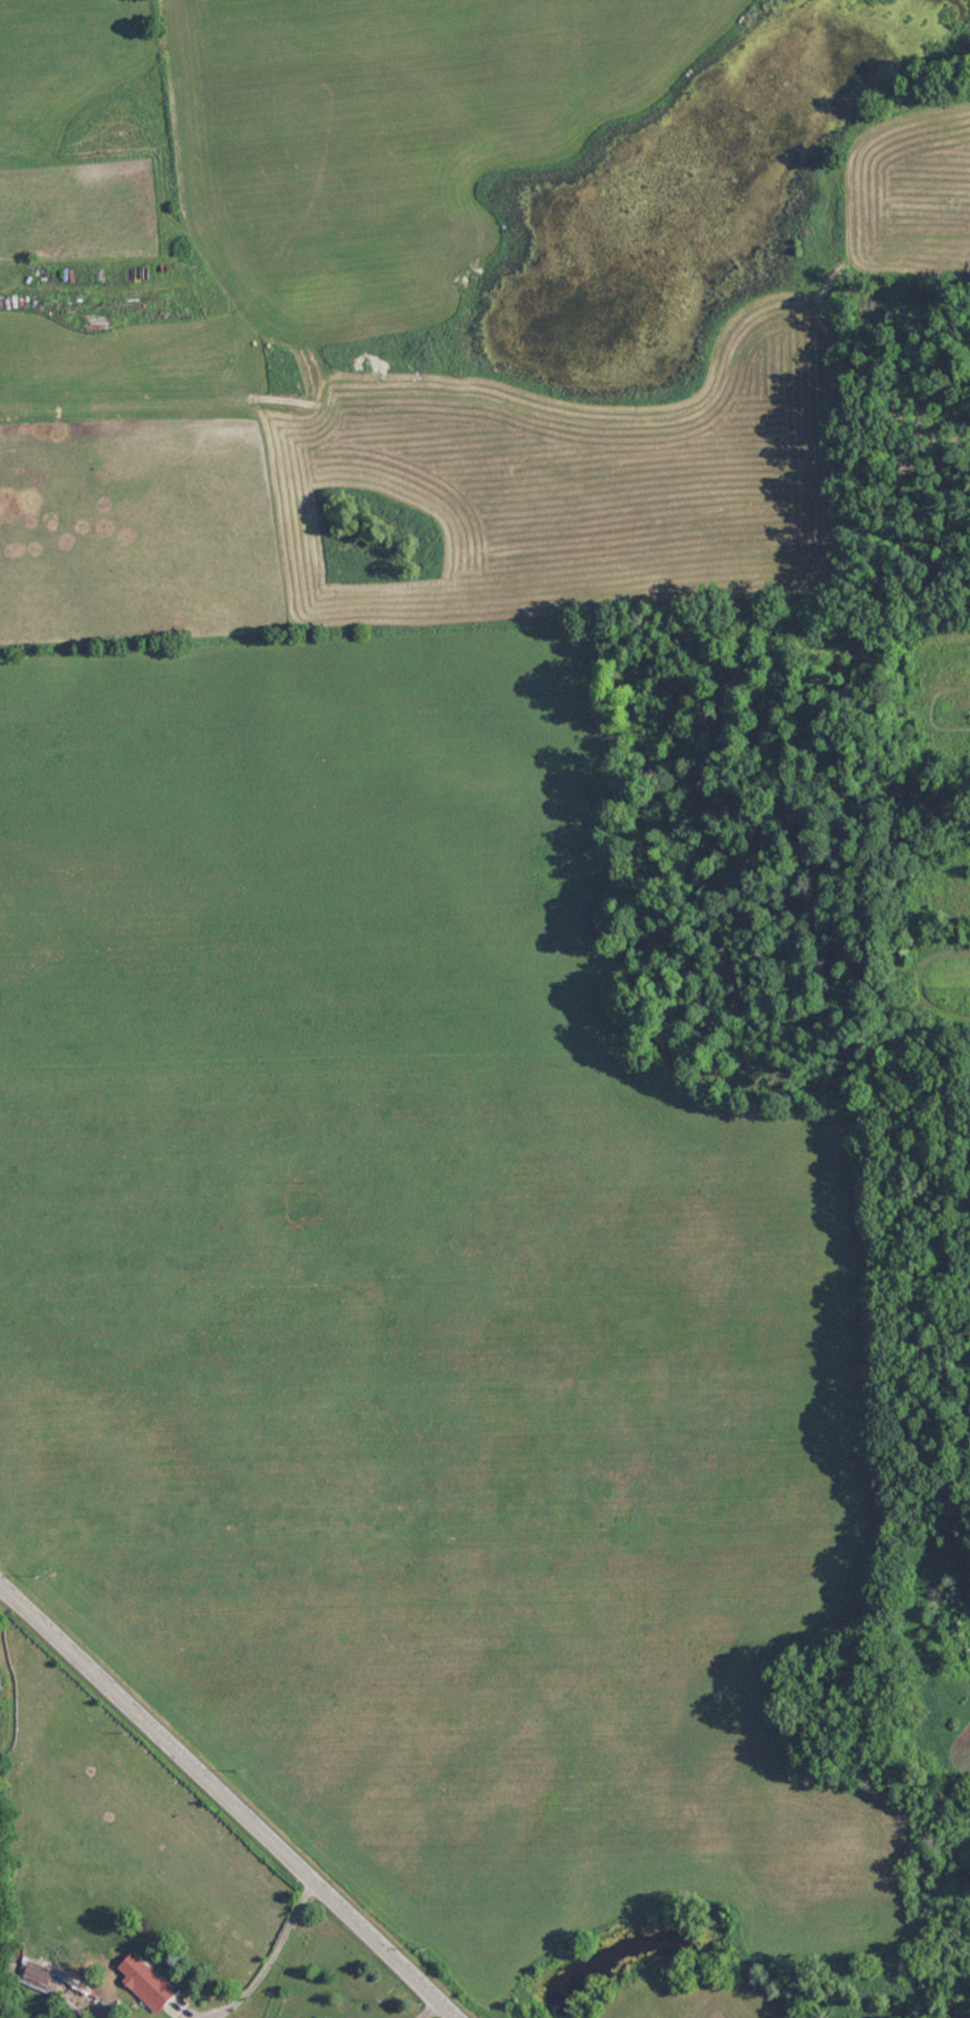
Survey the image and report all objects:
road: (236, 1794)
road: (266, 1948)
building: (34, 1976)
building: (149, 1979)
road: (425, 2004)

